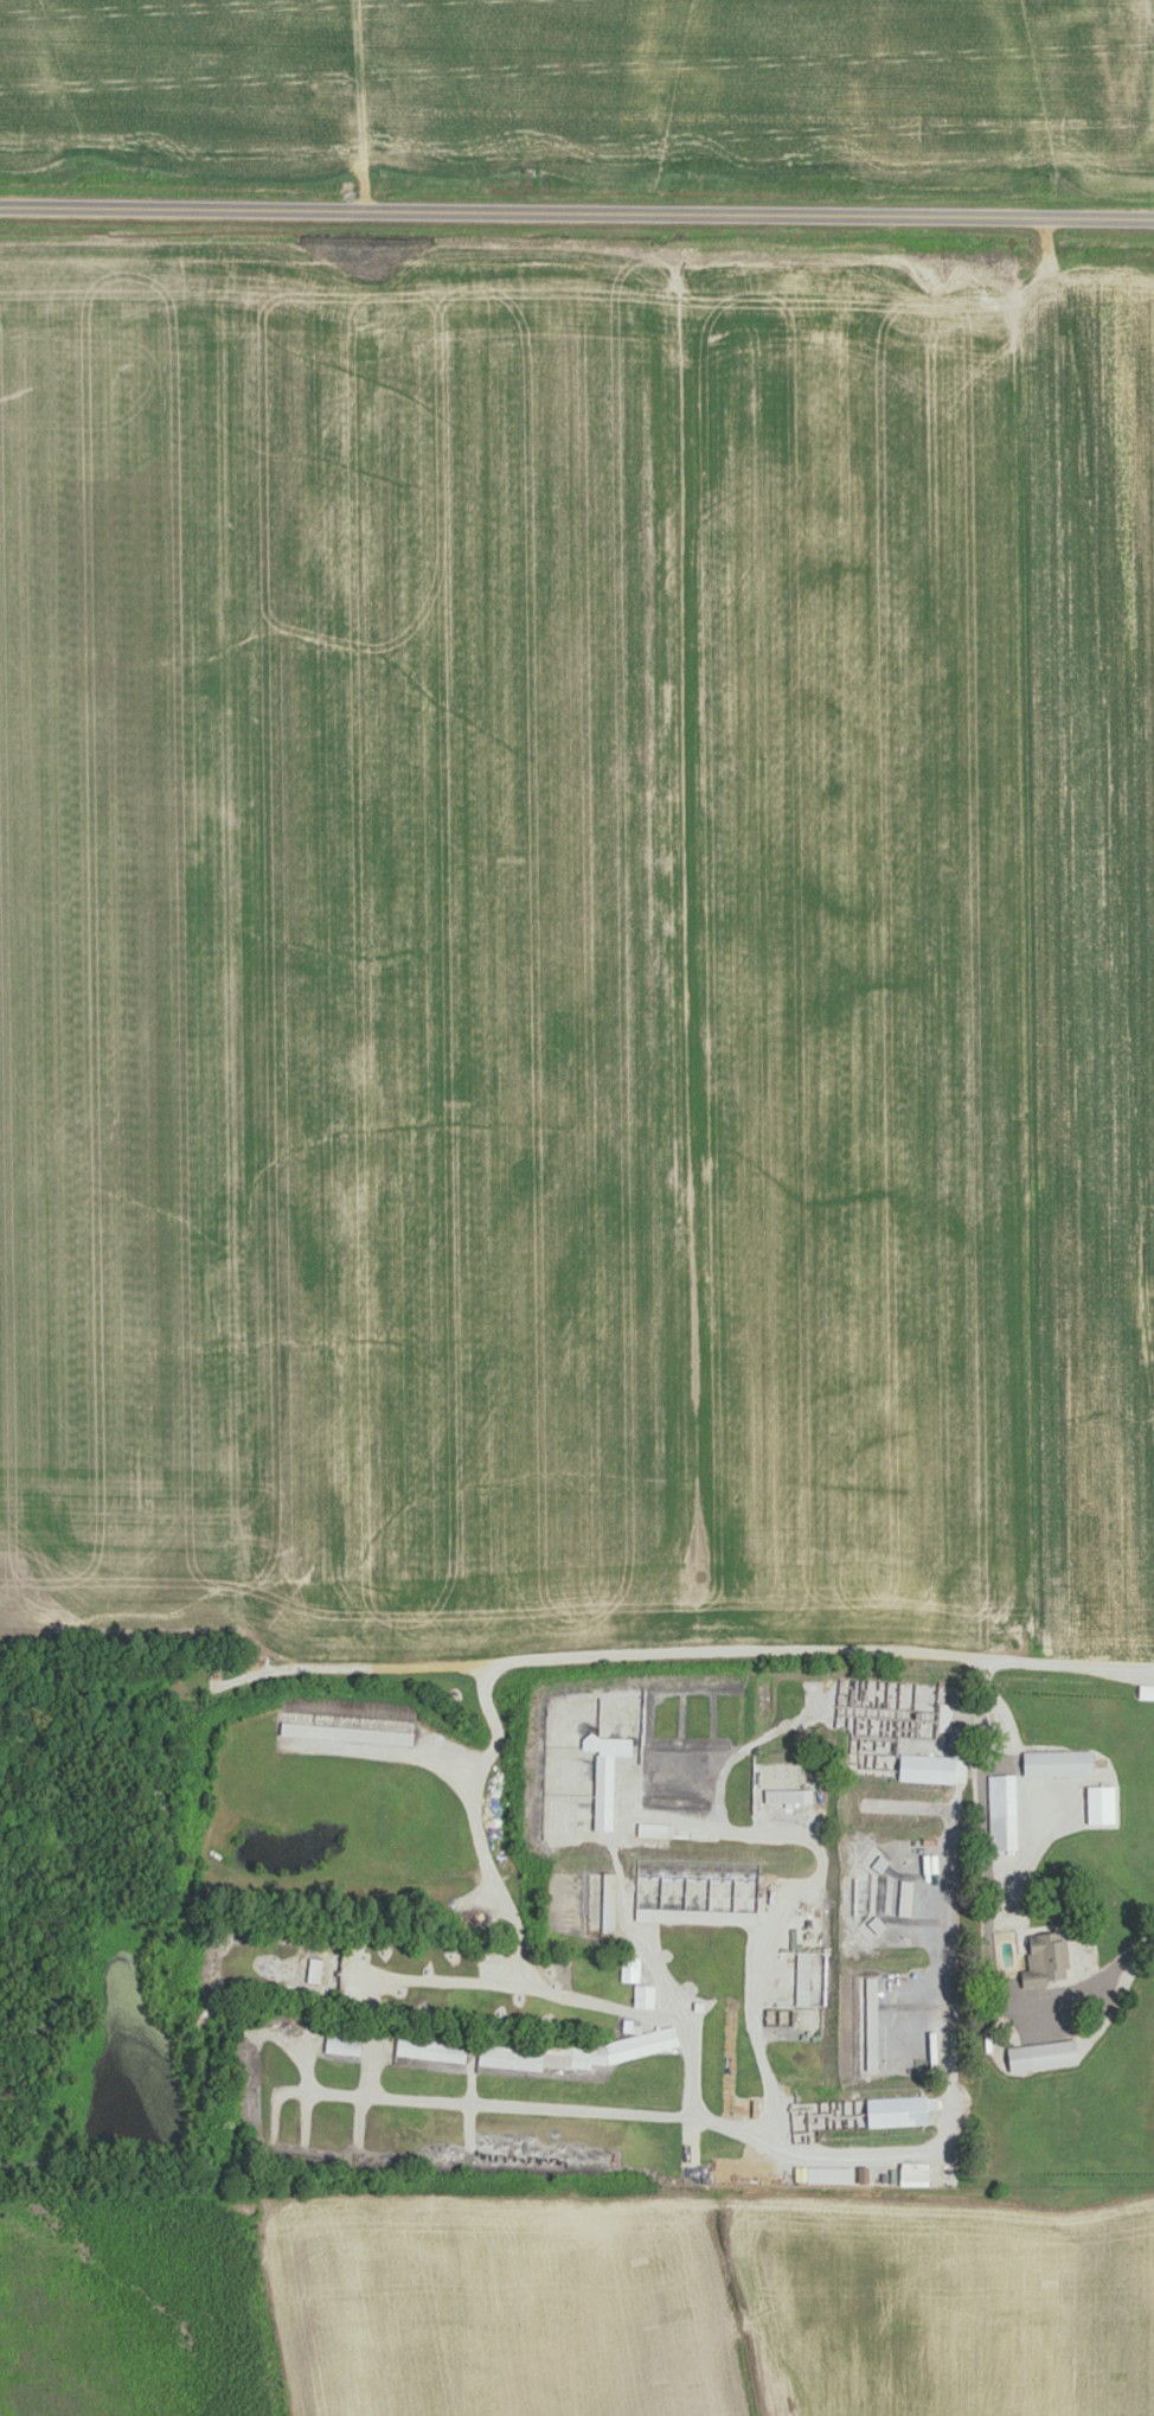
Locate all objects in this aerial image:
road: (577, 213)
road: (737, 1649)
building: (1147, 1692)
building: (347, 1733)
building: (1059, 1763)
building: (930, 1769)
building: (588, 1773)
building: (1004, 1813)
building: (650, 1830)
building: (685, 1884)
building: (908, 1898)
building: (610, 1903)
building: (1049, 1960)
building: (315, 1969)
road: (1103, 1975)
building: (646, 1996)
building: (873, 2024)
building: (345, 2041)
building: (431, 2049)
building: (1045, 2056)
road: (688, 2063)
road: (455, 2099)
building: (900, 2111)

